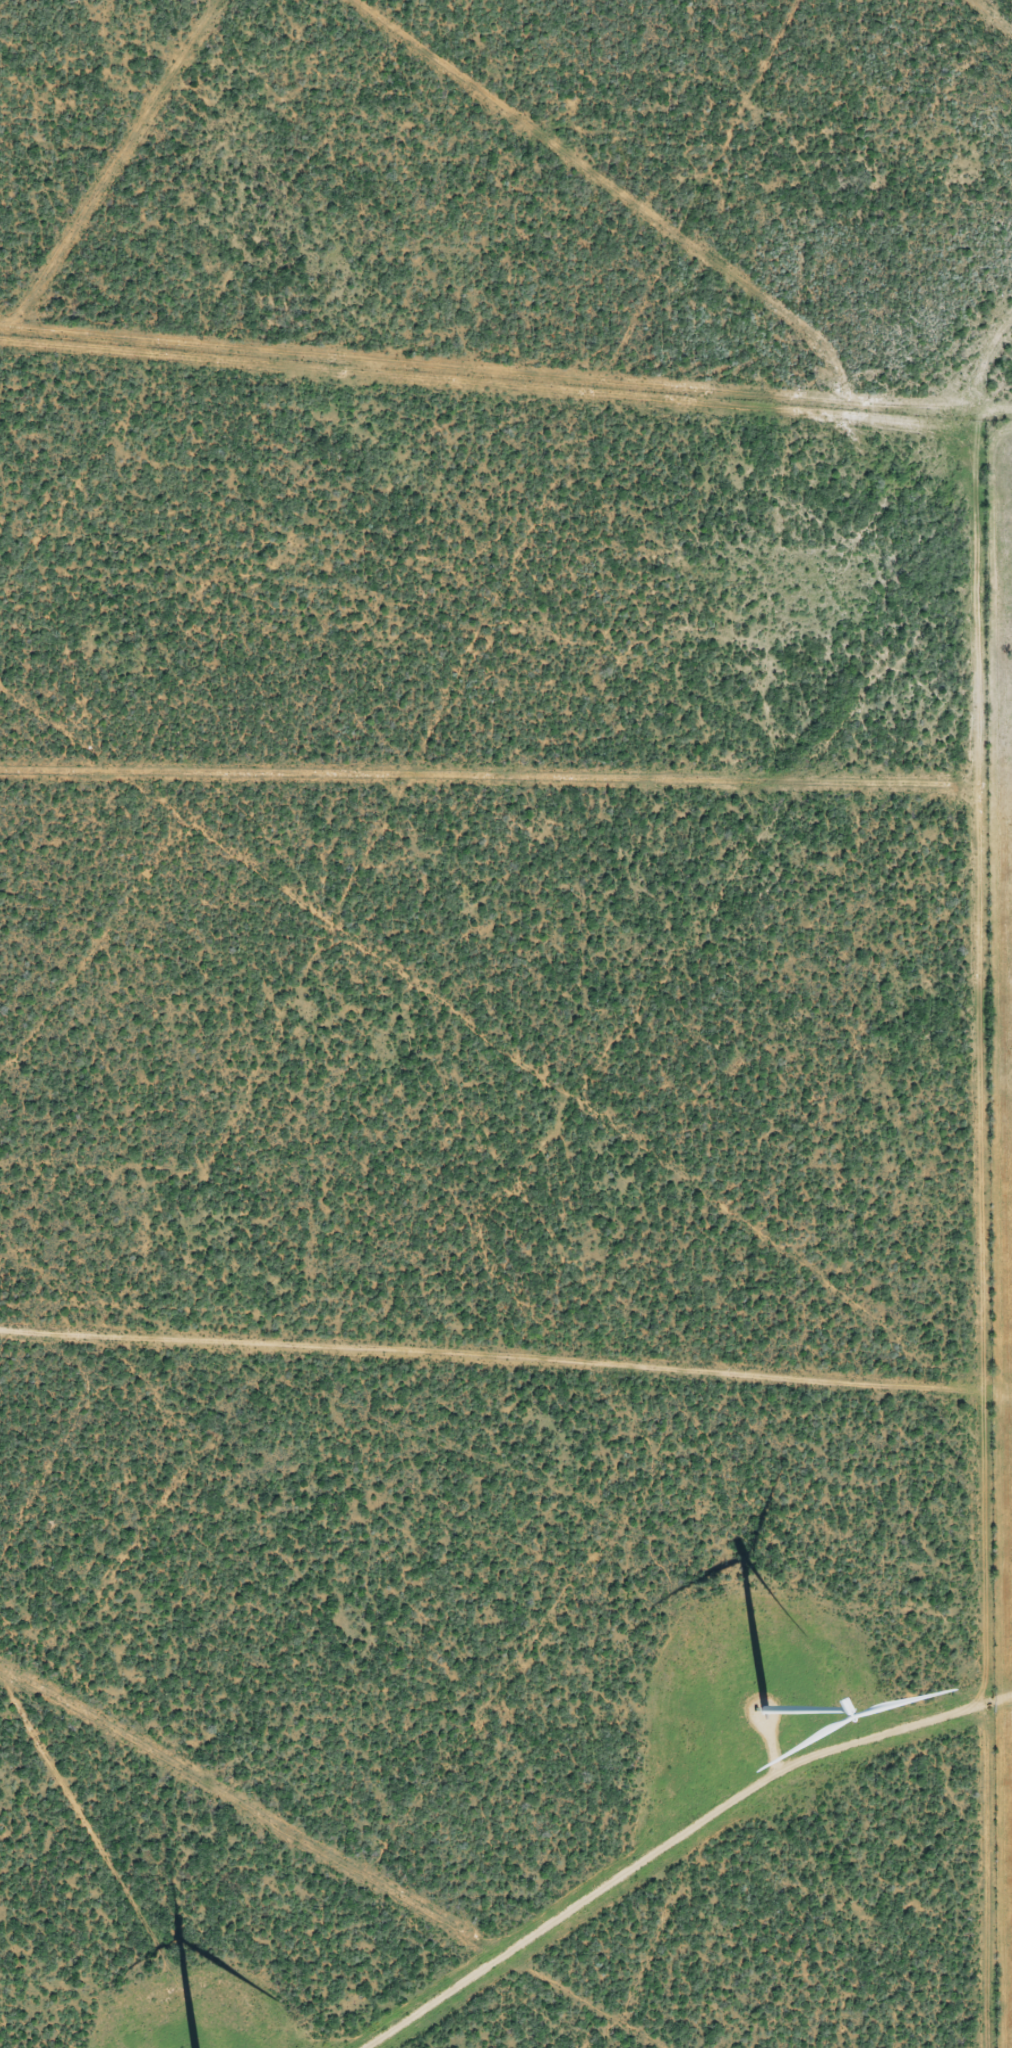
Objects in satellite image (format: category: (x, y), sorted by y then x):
wind turbine: (765, 1711)

